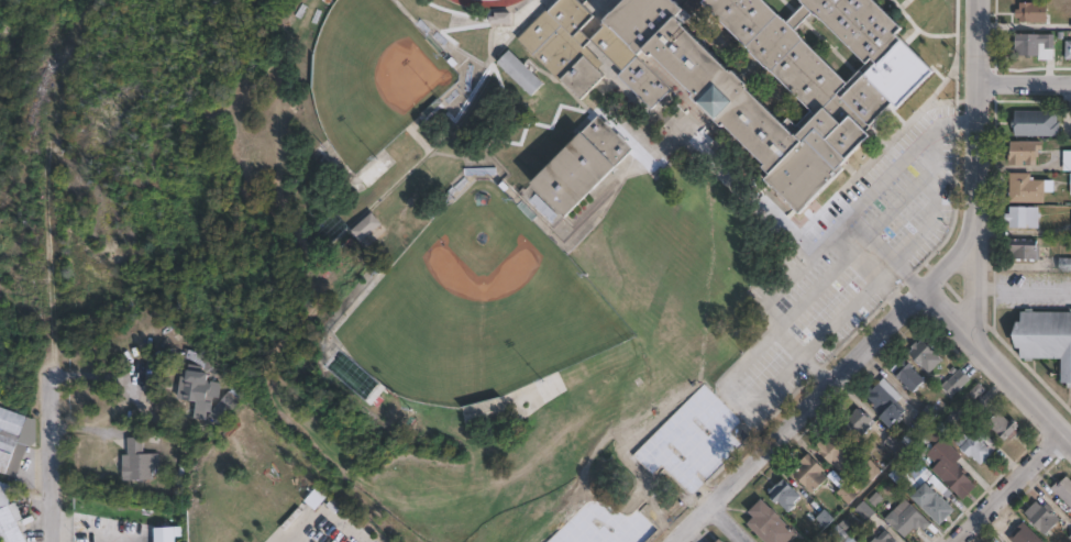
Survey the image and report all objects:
track: (484, 2)
building: (1034, 13)
building: (861, 26)
building: (1038, 47)
building: (1069, 51)
building: (520, 74)
building: (724, 79)
road: (1024, 86)
road: (978, 115)
building: (1037, 124)
building: (1025, 151)
building: (1067, 159)
building: (583, 167)
building: (1028, 188)
road: (859, 200)
road: (758, 202)
building: (1025, 215)
building: (364, 225)
building: (325, 233)
building: (1024, 248)
road: (953, 255)
building: (1055, 264)
road: (978, 284)
road: (954, 307)
building: (1046, 338)
building: (925, 355)
building: (908, 375)
building: (197, 378)
building: (956, 381)
road: (1024, 389)
building: (981, 395)
building: (885, 405)
road: (799, 410)
building: (211, 411)
building: (857, 422)
building: (1002, 423)
building: (13, 434)
building: (894, 443)
building: (979, 445)
building: (831, 446)
road: (55, 451)
building: (137, 461)
building: (914, 464)
building: (948, 464)
building: (871, 471)
building: (810, 473)
road: (1008, 487)
building: (1063, 489)
building: (848, 494)
building: (784, 495)
building: (927, 498)
road: (318, 507)
building: (864, 510)
building: (1044, 517)
building: (9, 518)
building: (907, 520)
building: (770, 523)
road: (716, 527)
building: (842, 533)
building: (1020, 533)
building: (885, 537)
building: (717, 540)
building: (719, 541)

